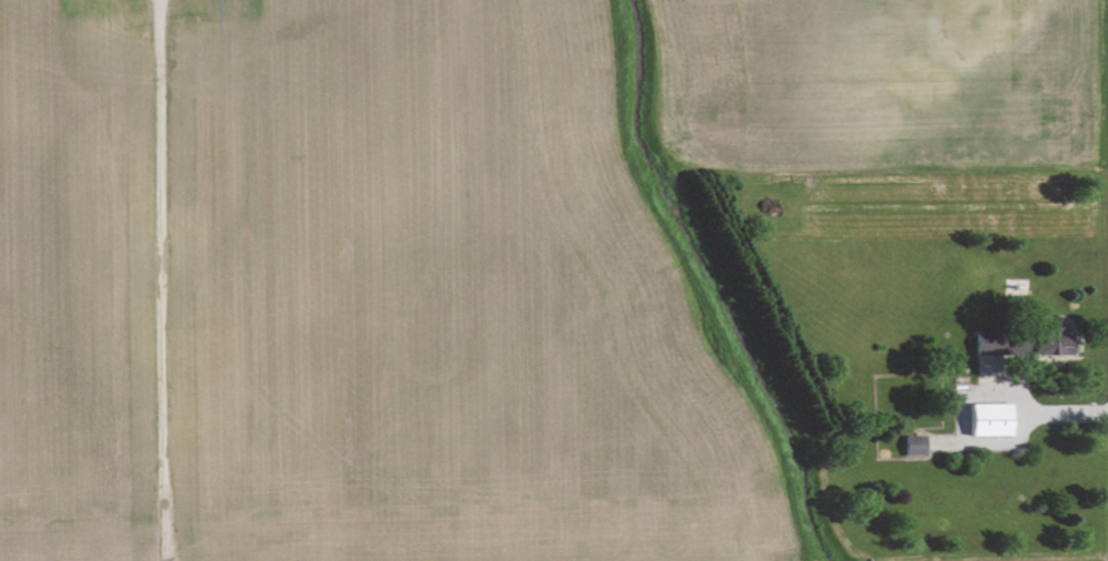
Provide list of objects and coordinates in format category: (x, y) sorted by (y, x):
building: (921, 85)
building: (1026, 341)
building: (993, 419)
building: (916, 445)

